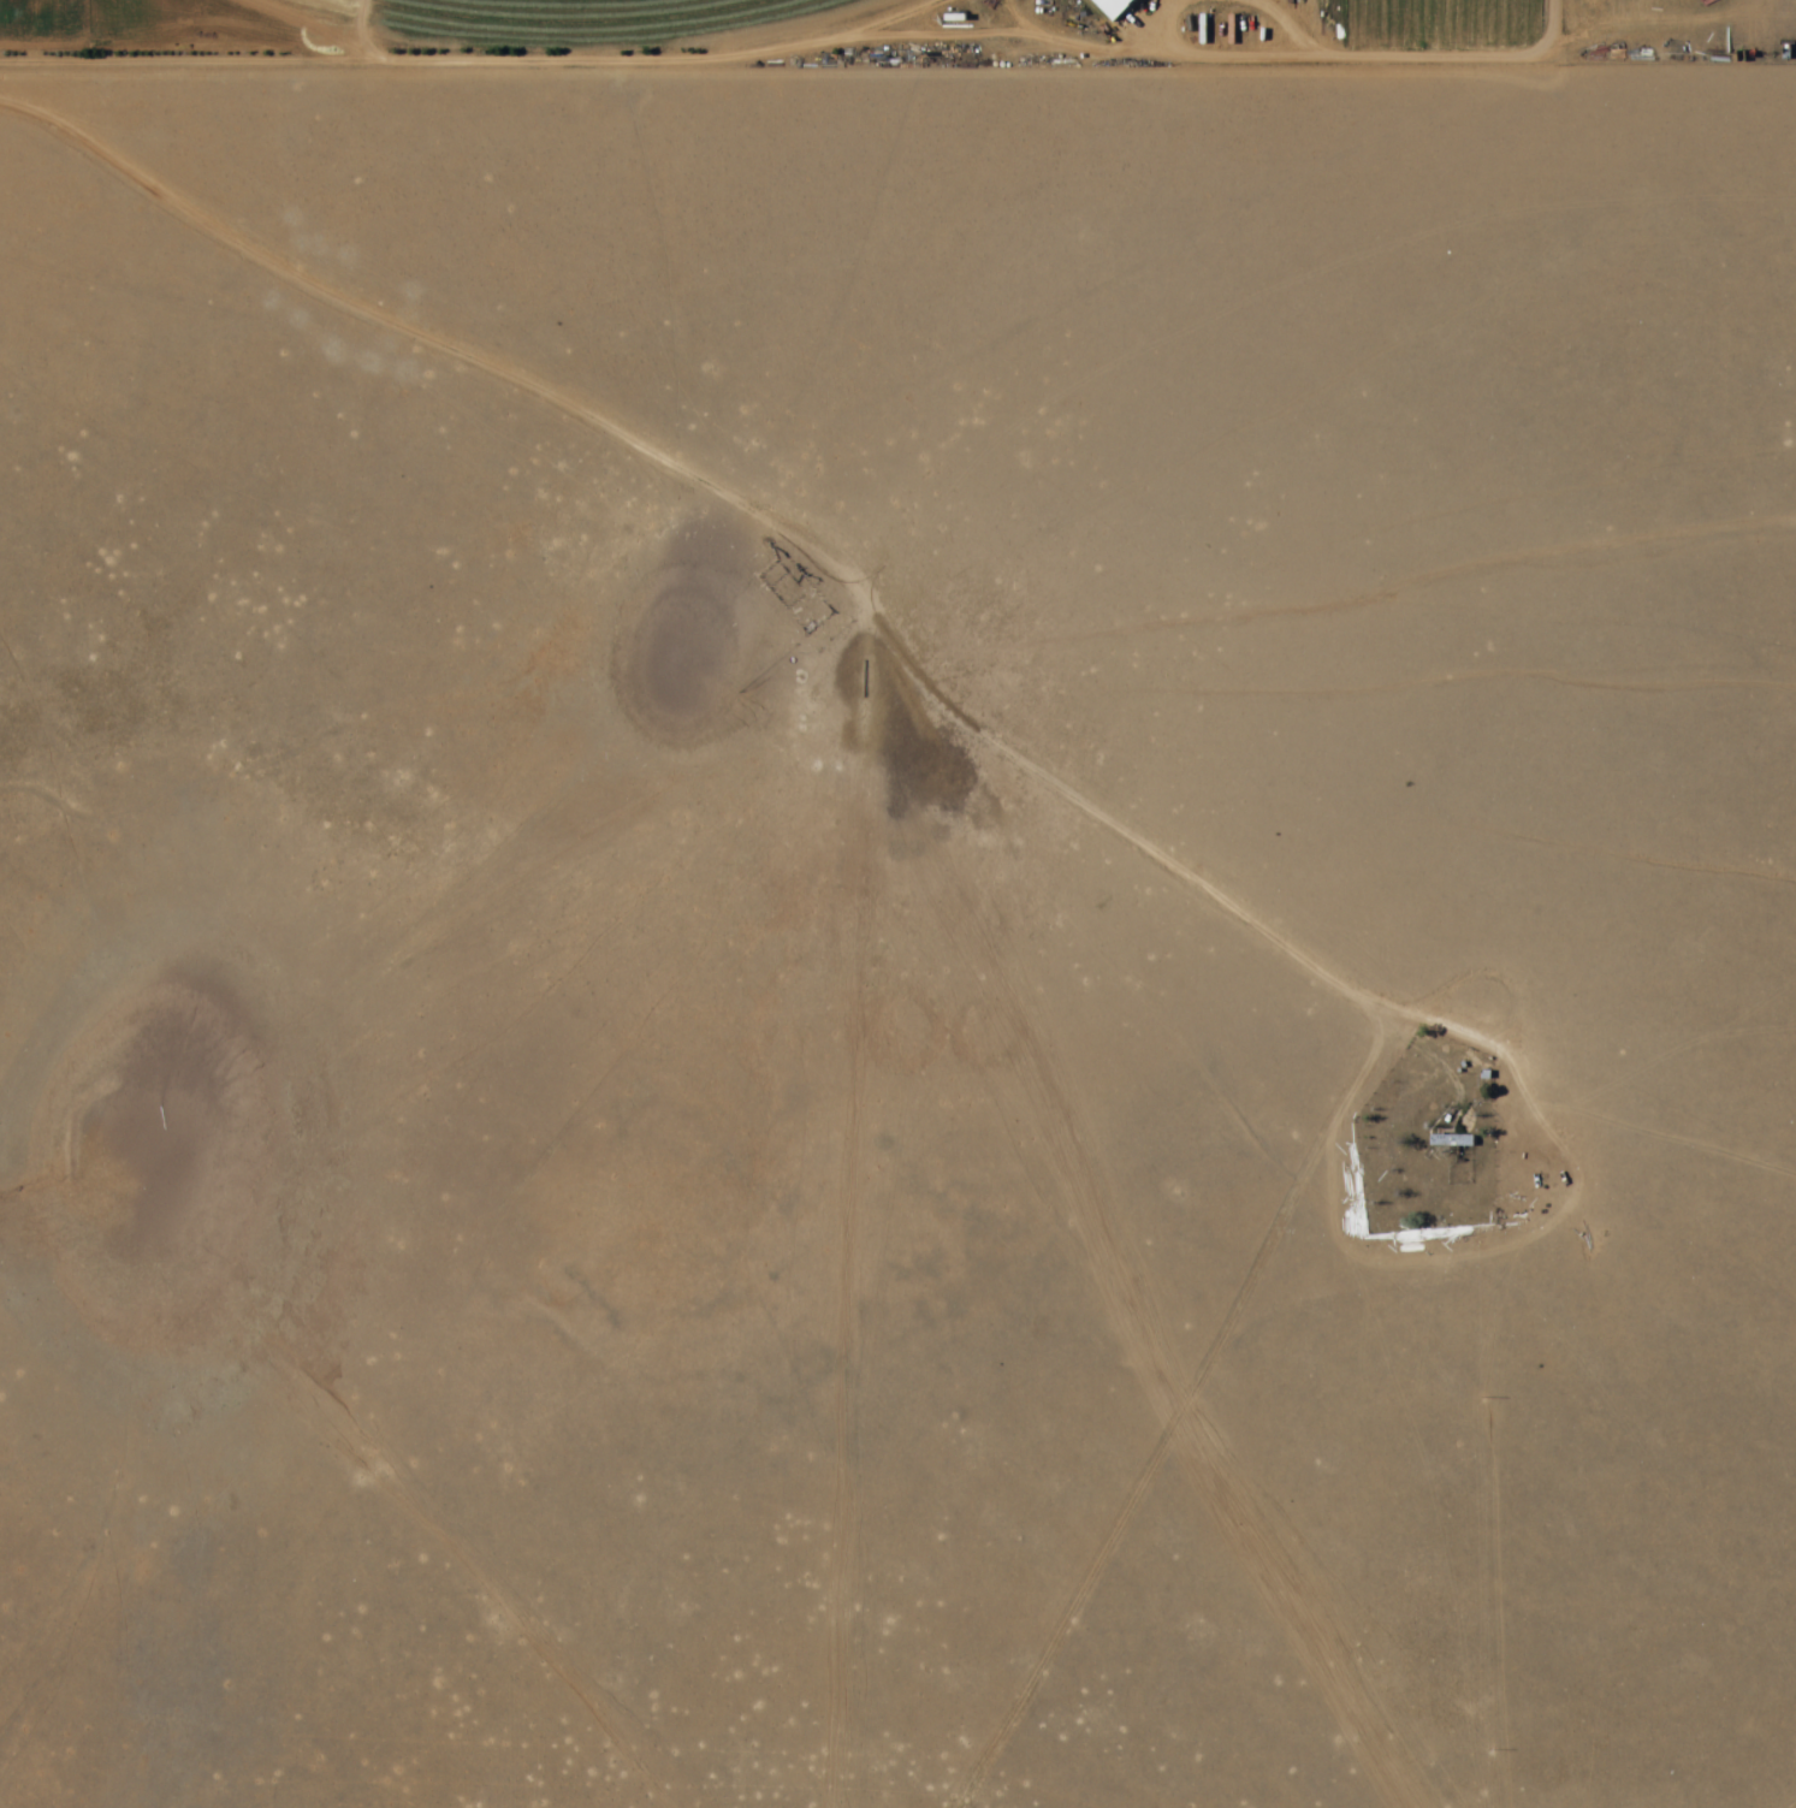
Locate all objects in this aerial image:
building: (1115, 8)
building: (1452, 1142)

